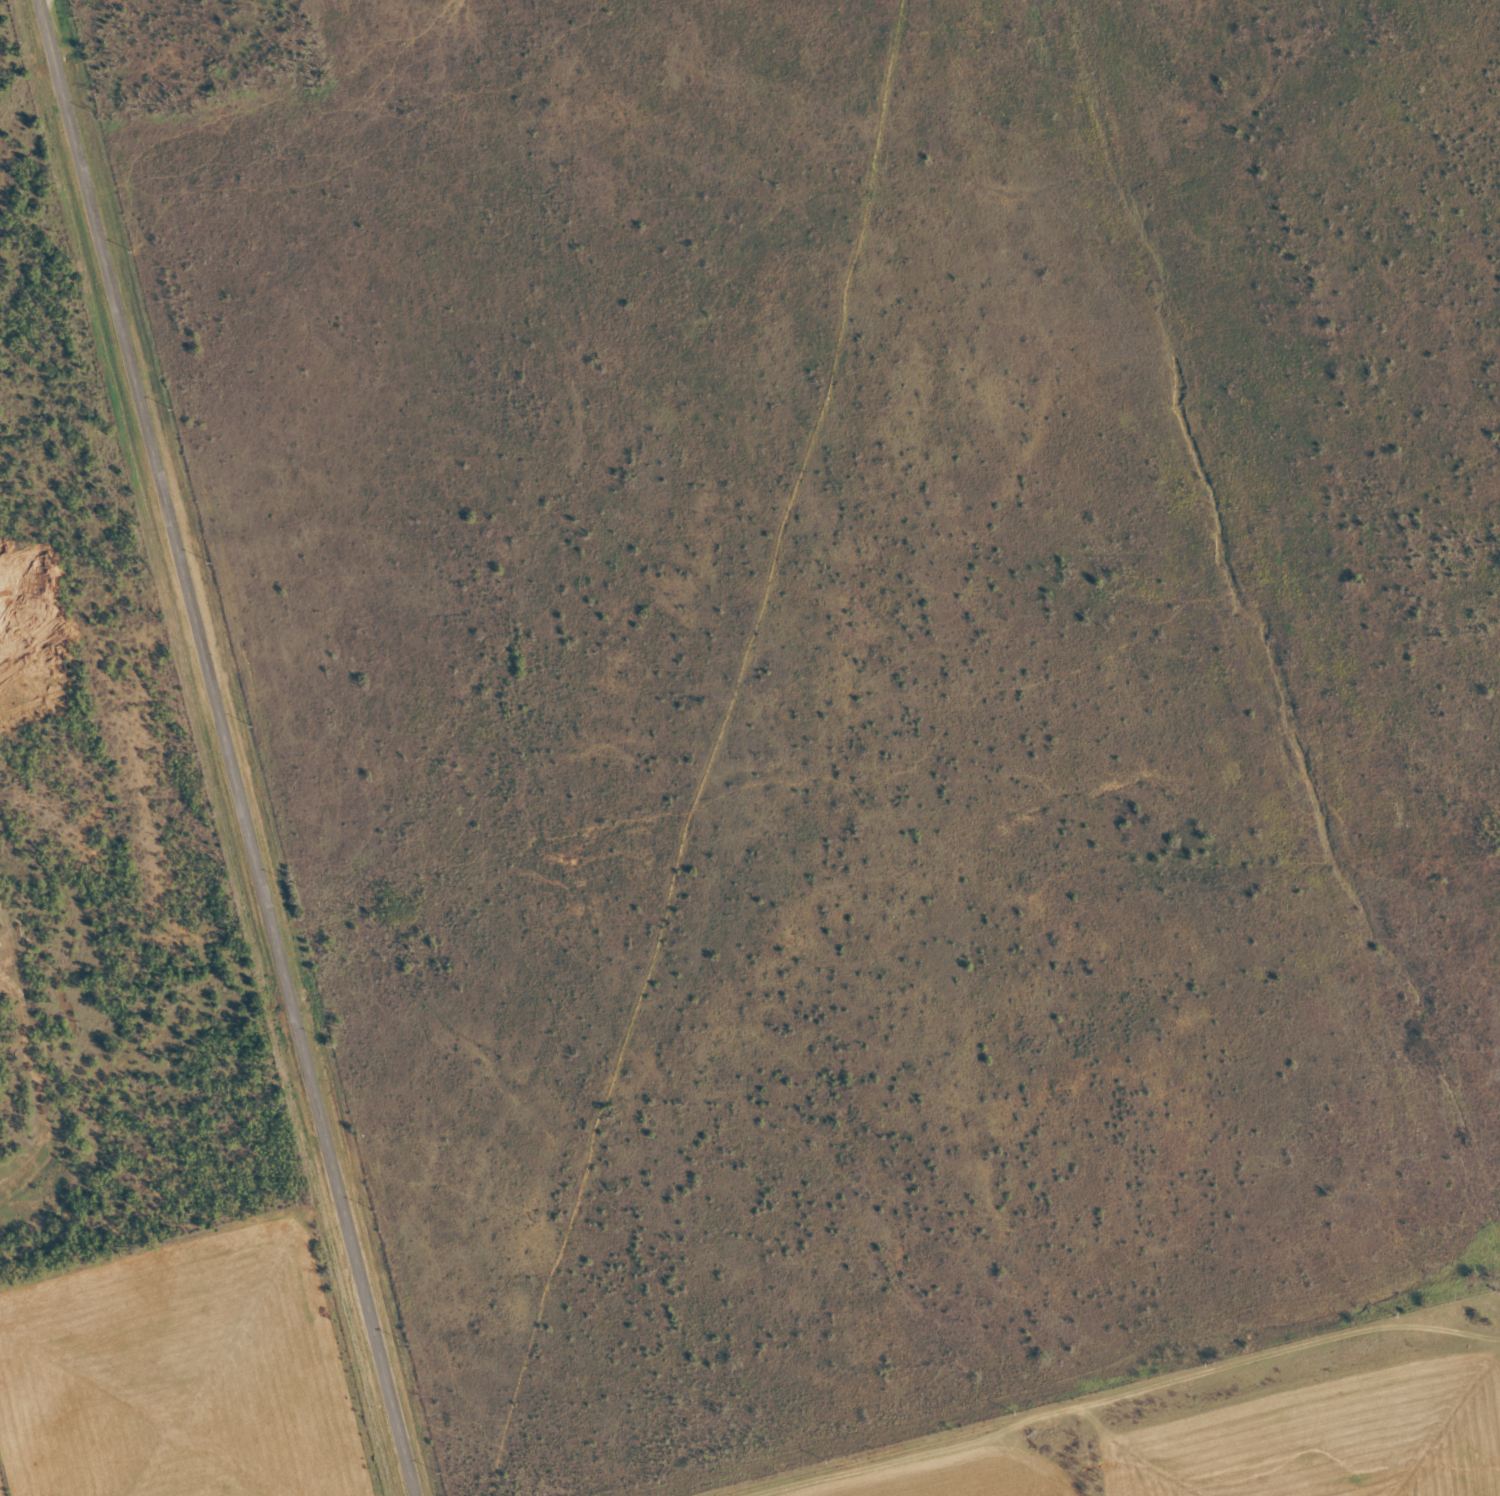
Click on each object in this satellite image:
road: (227, 748)

